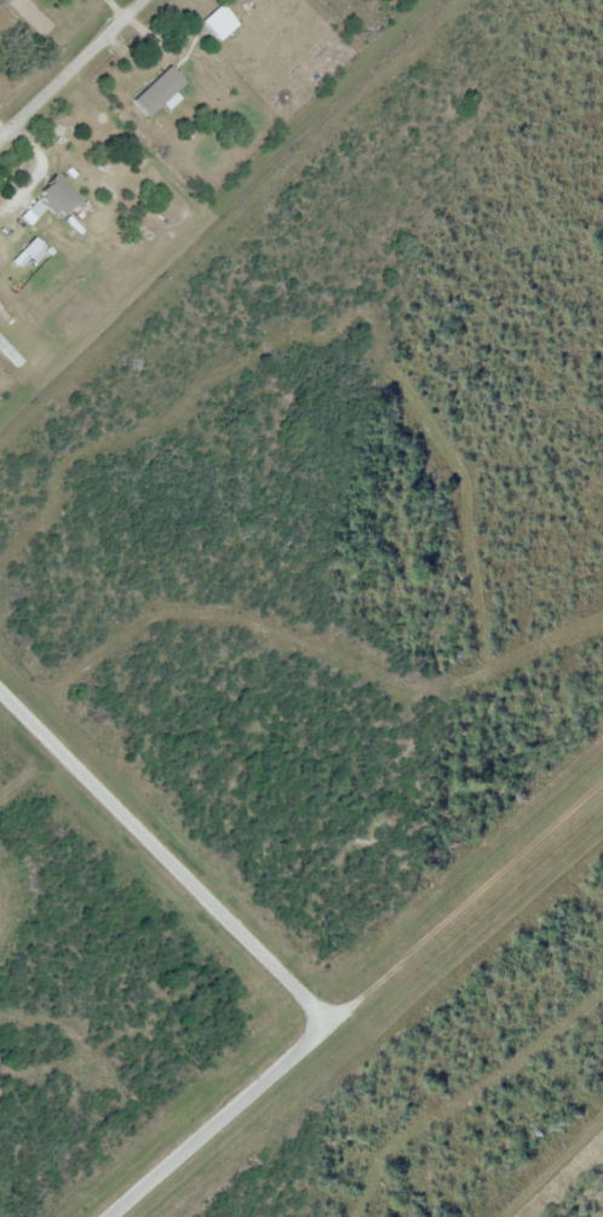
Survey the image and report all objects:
road: (70, 68)
building: (57, 199)
road: (163, 853)
road: (465, 897)
road: (219, 1116)

